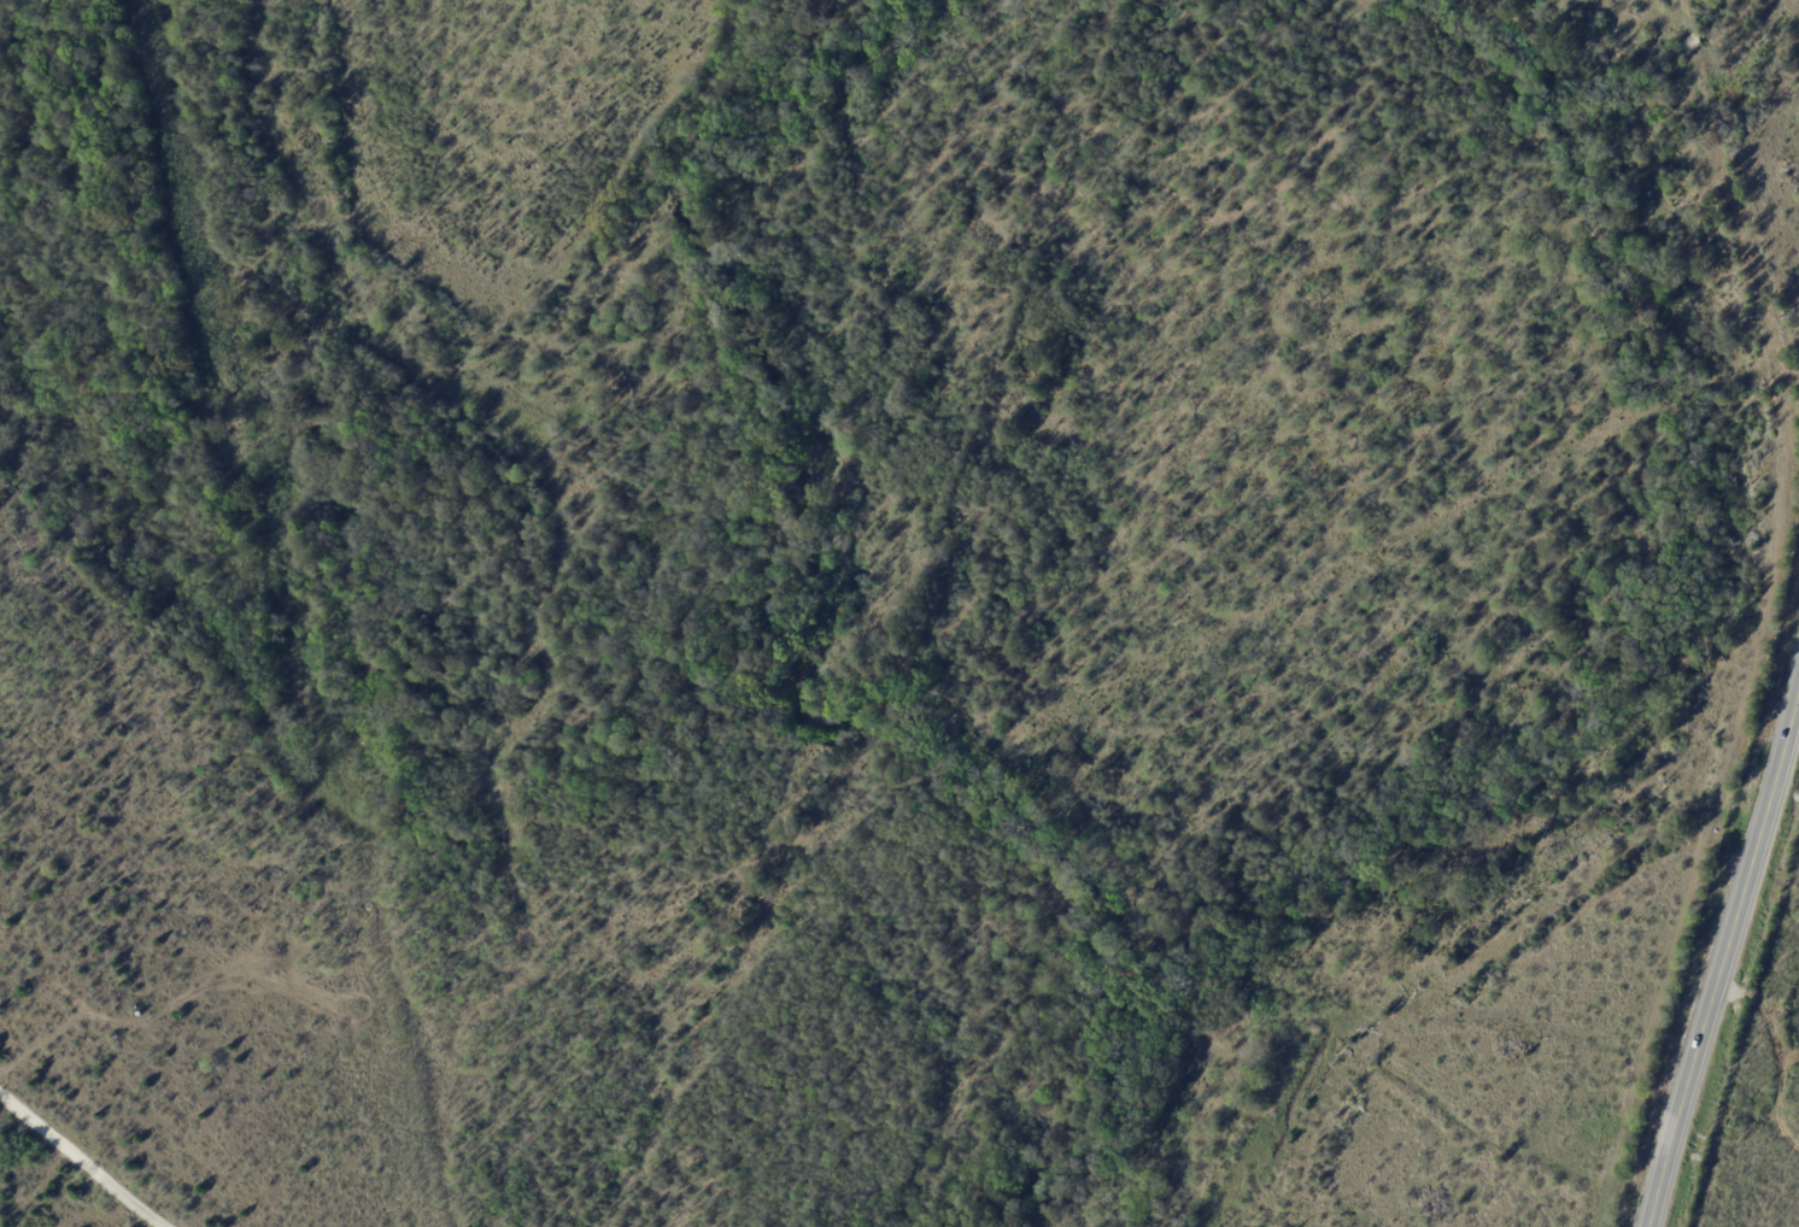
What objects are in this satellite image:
road: (1787, 723)
road: (1710, 998)
road: (84, 1161)

